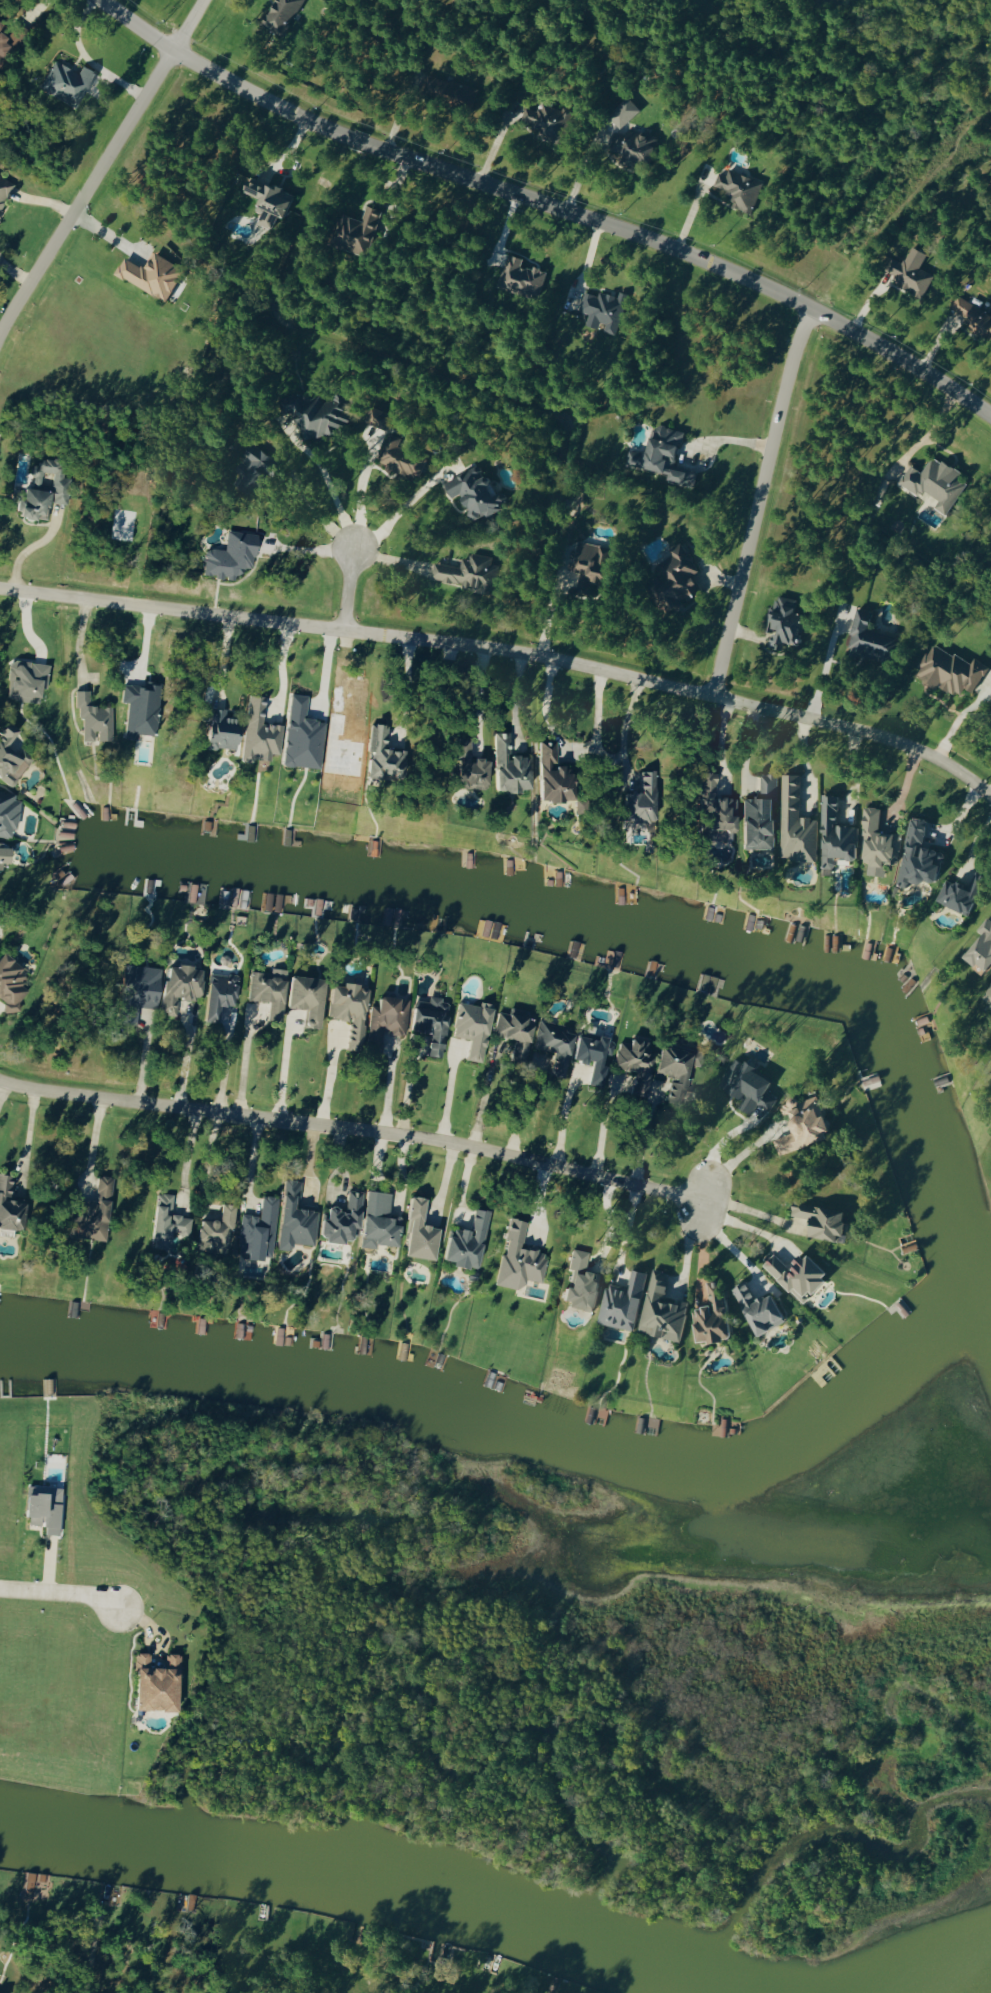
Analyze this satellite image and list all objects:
building: (279, 15)
road: (186, 24)
building: (14, 32)
building: (2, 42)
road: (87, 58)
building: (66, 82)
building: (438, 86)
building: (622, 112)
building: (545, 120)
building: (632, 146)
road: (84, 187)
building: (4, 188)
building: (738, 189)
building: (267, 201)
road: (545, 205)
building: (355, 230)
building: (149, 274)
building: (906, 275)
building: (520, 276)
building: (603, 310)
building: (971, 315)
building: (314, 412)
building: (377, 418)
building: (661, 456)
building: (399, 457)
building: (251, 470)
building: (933, 482)
building: (40, 489)
building: (473, 492)
road: (328, 493)
road: (357, 499)
road: (748, 499)
road: (306, 509)
road: (394, 517)
road: (30, 547)
building: (229, 555)
building: (590, 562)
building: (468, 573)
building: (675, 577)
road: (347, 588)
road: (547, 609)
building: (782, 622)
building: (868, 638)
road: (82, 640)
road: (506, 650)
road: (223, 659)
road: (281, 664)
road: (824, 664)
road: (326, 667)
building: (948, 671)
building: (25, 680)
road: (405, 683)
road: (480, 696)
road: (512, 701)
building: (139, 708)
road: (958, 716)
building: (92, 718)
road: (624, 727)
building: (219, 730)
building: (258, 732)
building: (301, 735)
road: (569, 746)
building: (379, 752)
building: (8, 755)
road: (805, 763)
building: (466, 766)
building: (508, 766)
building: (551, 774)
road: (855, 775)
building: (638, 800)
building: (714, 810)
building: (7, 812)
building: (758, 815)
building: (794, 824)
building: (834, 836)
building: (876, 843)
building: (1, 856)
building: (917, 856)
building: (959, 894)
building: (980, 948)
building: (10, 981)
building: (177, 984)
building: (266, 989)
building: (136, 990)
building: (216, 993)
building: (987, 994)
building: (303, 996)
building: (342, 1009)
building: (429, 1021)
building: (470, 1026)
building: (553, 1043)
building: (591, 1053)
road: (241, 1063)
road: (223, 1065)
road: (281, 1069)
building: (672, 1069)
road: (334, 1078)
road: (0, 1083)
building: (746, 1085)
road: (392, 1088)
road: (412, 1091)
road: (453, 1097)
road: (528, 1111)
road: (563, 1116)
building: (800, 1123)
road: (352, 1128)
road: (24, 1139)
road: (651, 1140)
road: (97, 1143)
road: (192, 1158)
road: (739, 1162)
road: (205, 1163)
road: (256, 1163)
building: (8, 1204)
building: (91, 1212)
road: (751, 1214)
building: (292, 1216)
building: (340, 1218)
building: (376, 1219)
building: (165, 1220)
building: (819, 1220)
road: (611, 1221)
building: (215, 1223)
road: (627, 1228)
road: (741, 1228)
building: (257, 1230)
building: (417, 1230)
building: (464, 1240)
road: (693, 1246)
road: (729, 1246)
building: (518, 1257)
building: (795, 1273)
building: (579, 1282)
building: (621, 1302)
building: (756, 1308)
building: (660, 1309)
building: (710, 1315)
building: (41, 1507)
road: (59, 1591)
building: (153, 1682)

